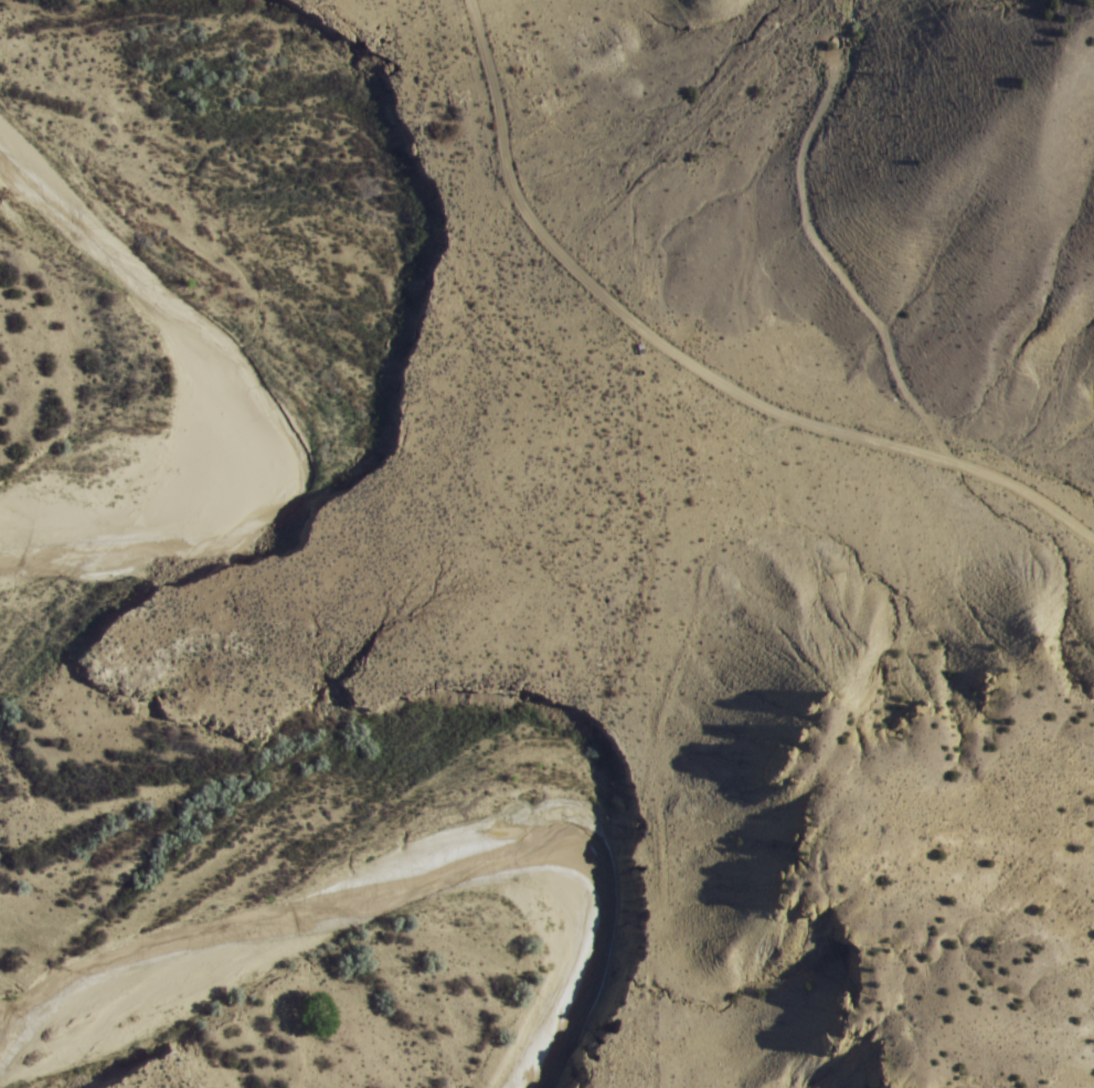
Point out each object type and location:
road: (689, 361)
river: (339, 385)
river: (399, 858)

